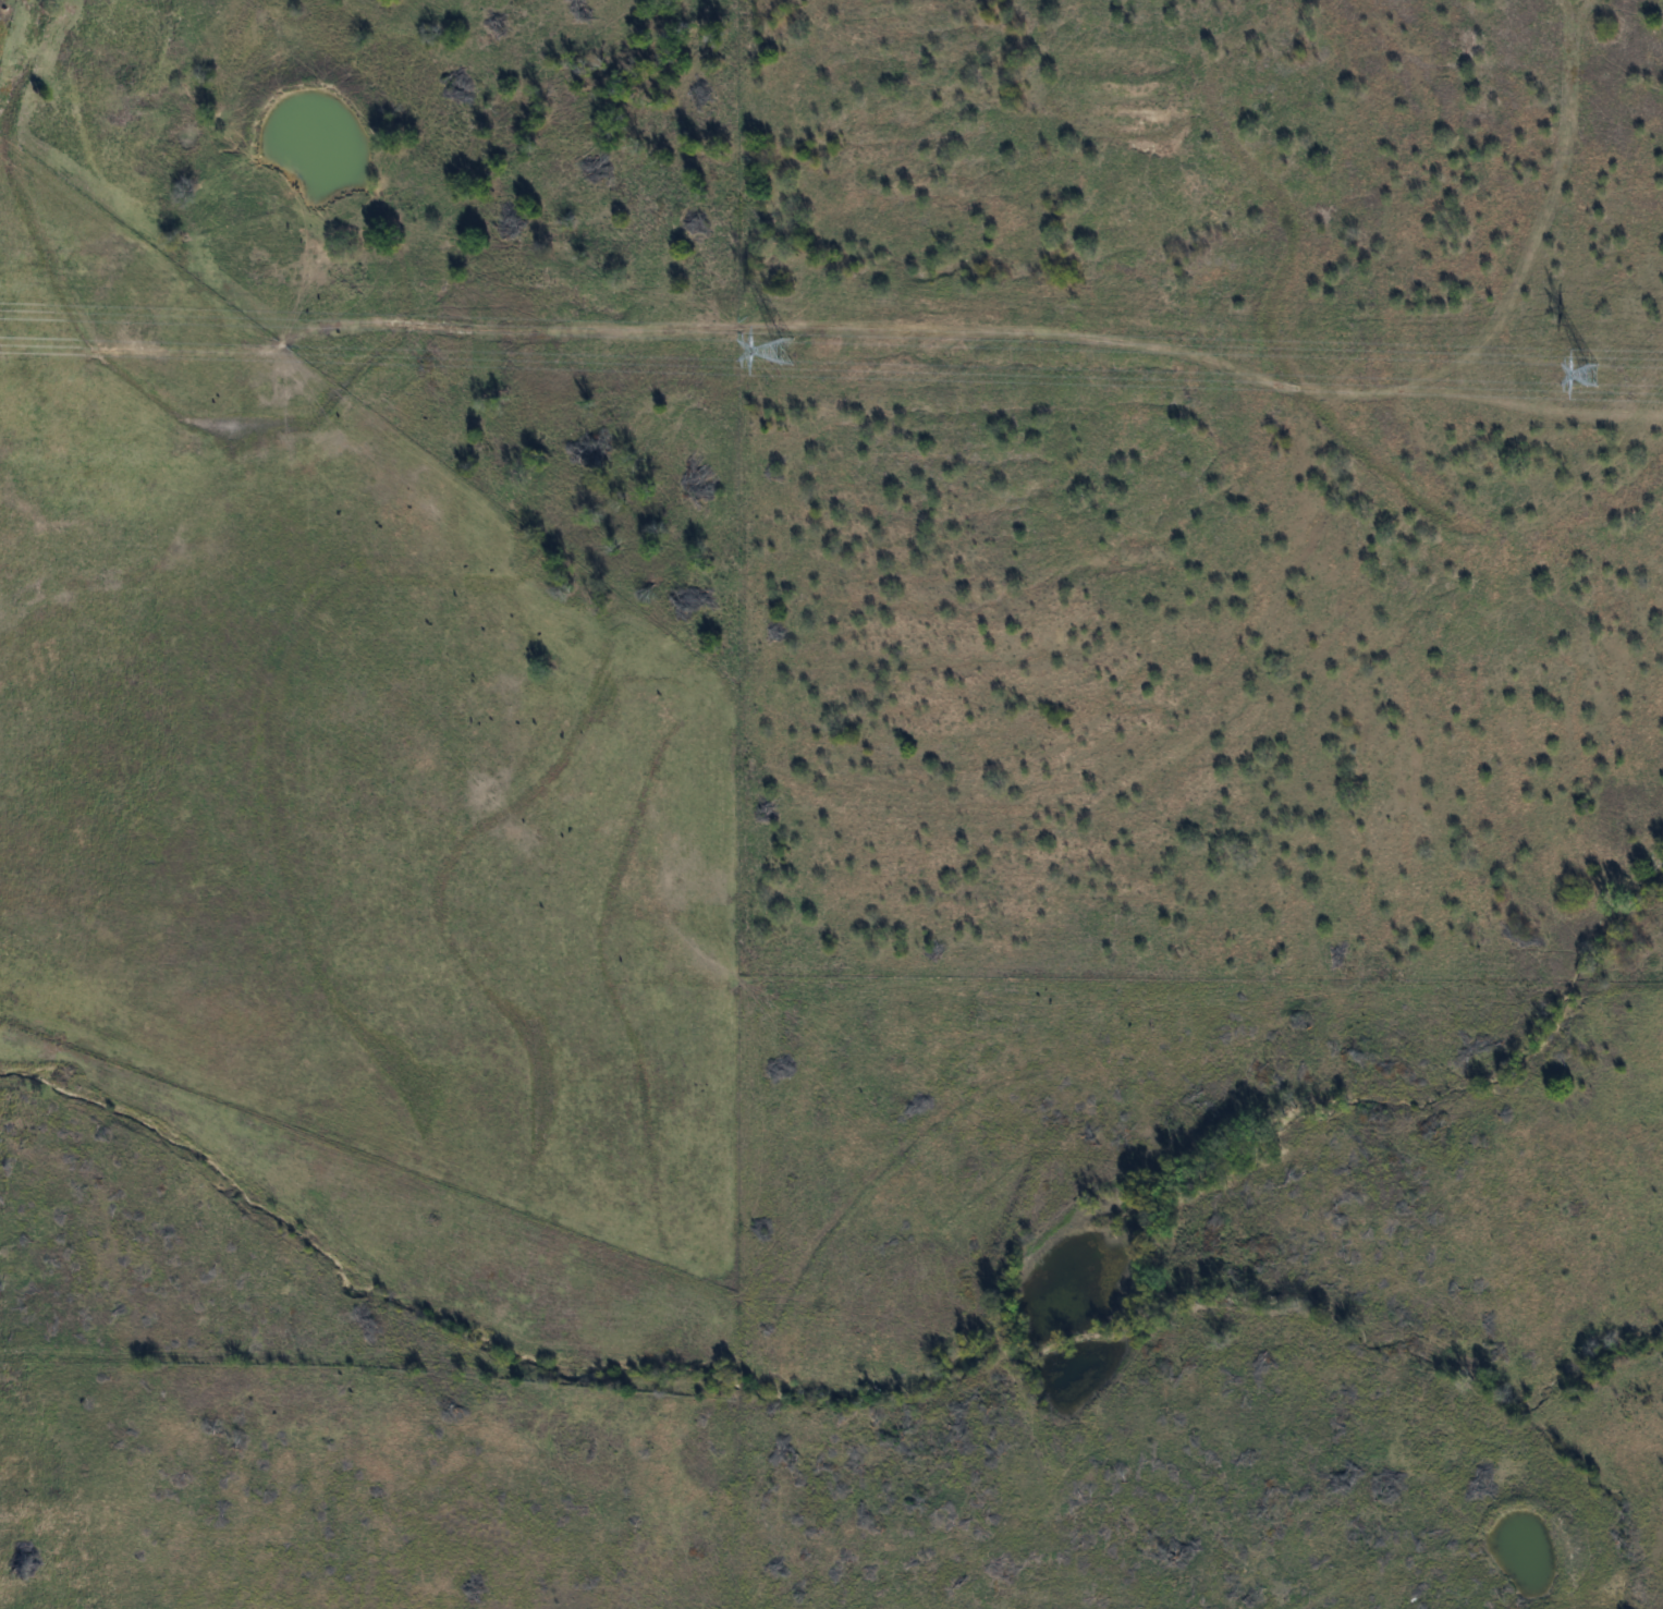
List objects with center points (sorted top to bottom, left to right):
power tower: (787, 352)
power tower: (1593, 376)

